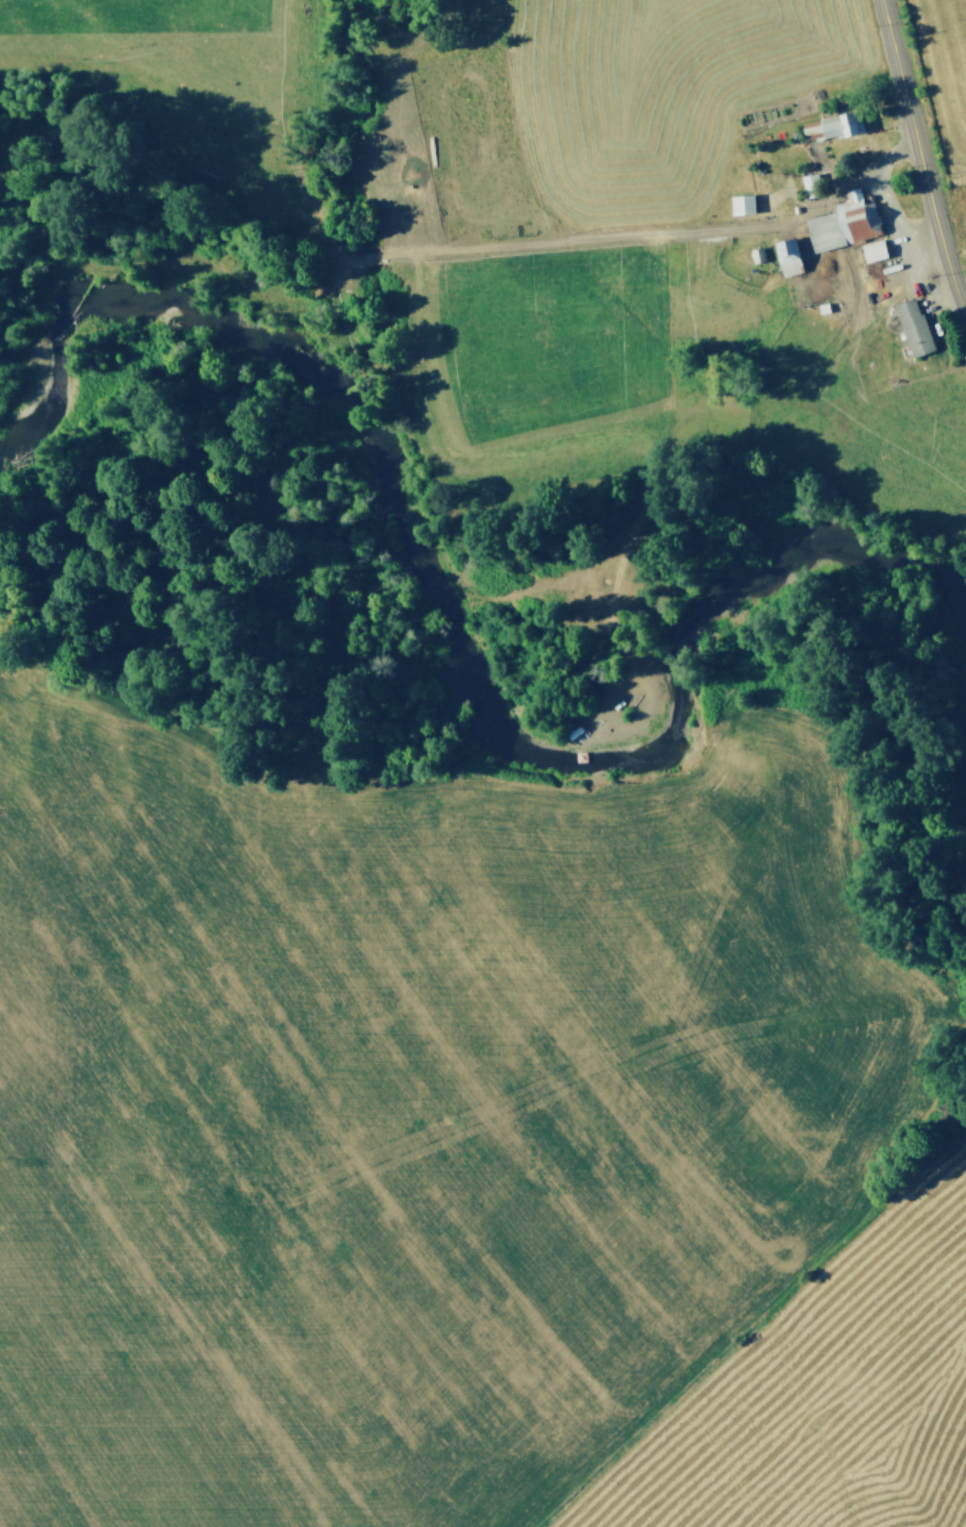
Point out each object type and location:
building: (829, 127)
road: (920, 160)
crop: (587, 184)
building: (738, 204)
building: (840, 223)
building: (870, 251)
building: (783, 257)
building: (910, 327)
river: (441, 624)
crop: (455, 1152)

